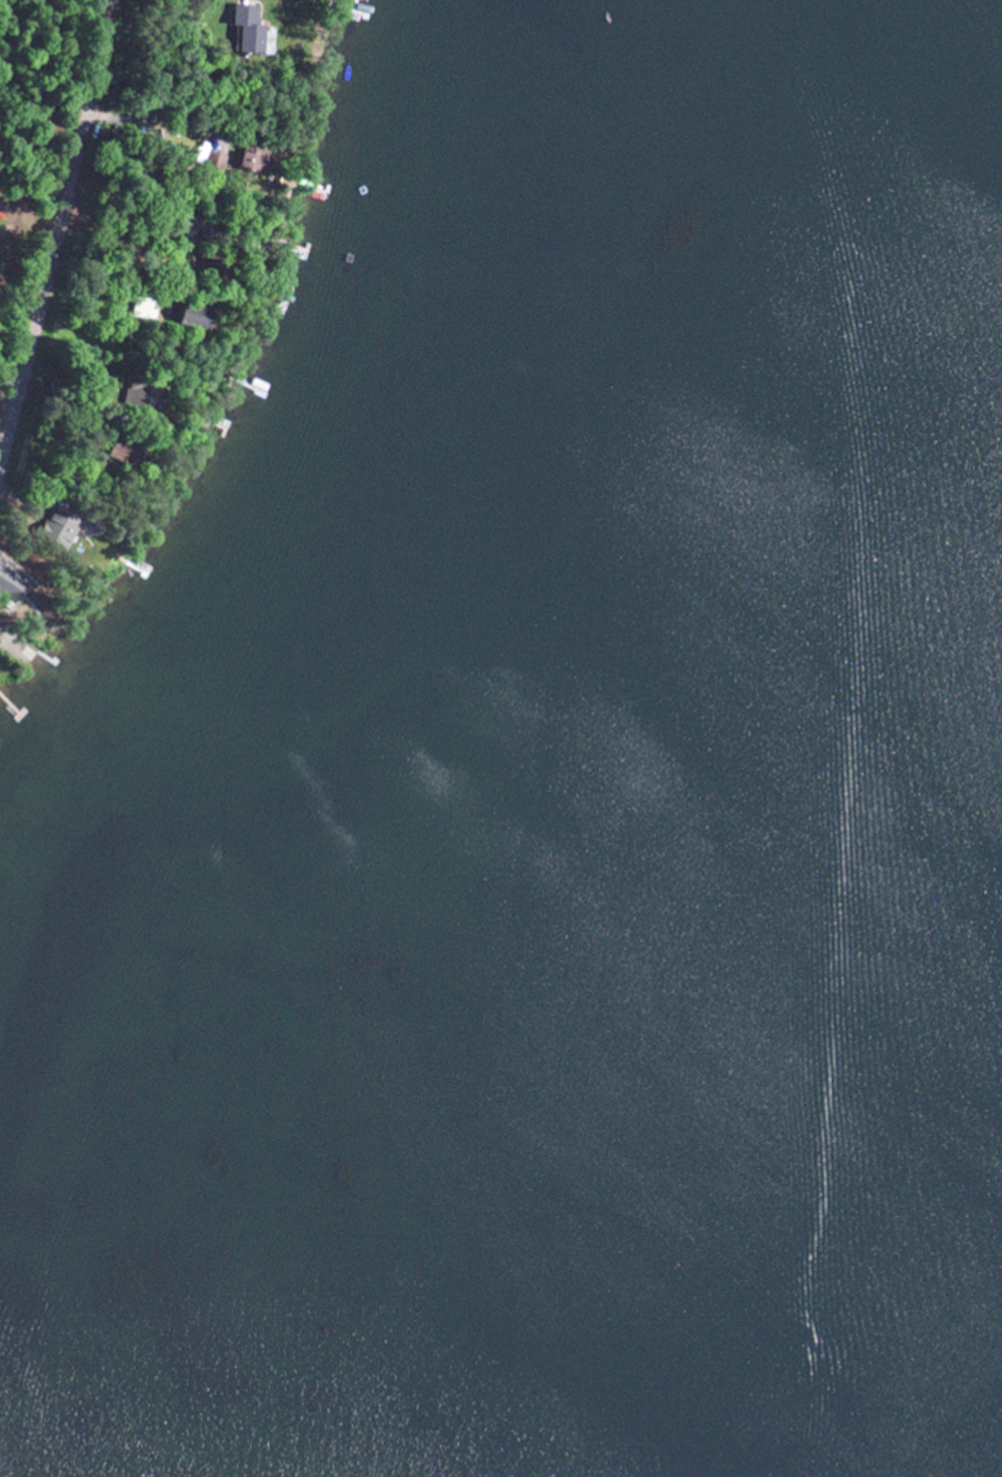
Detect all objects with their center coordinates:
building: (257, 159)
building: (216, 160)
road: (66, 246)
building: (202, 315)
building: (147, 390)

